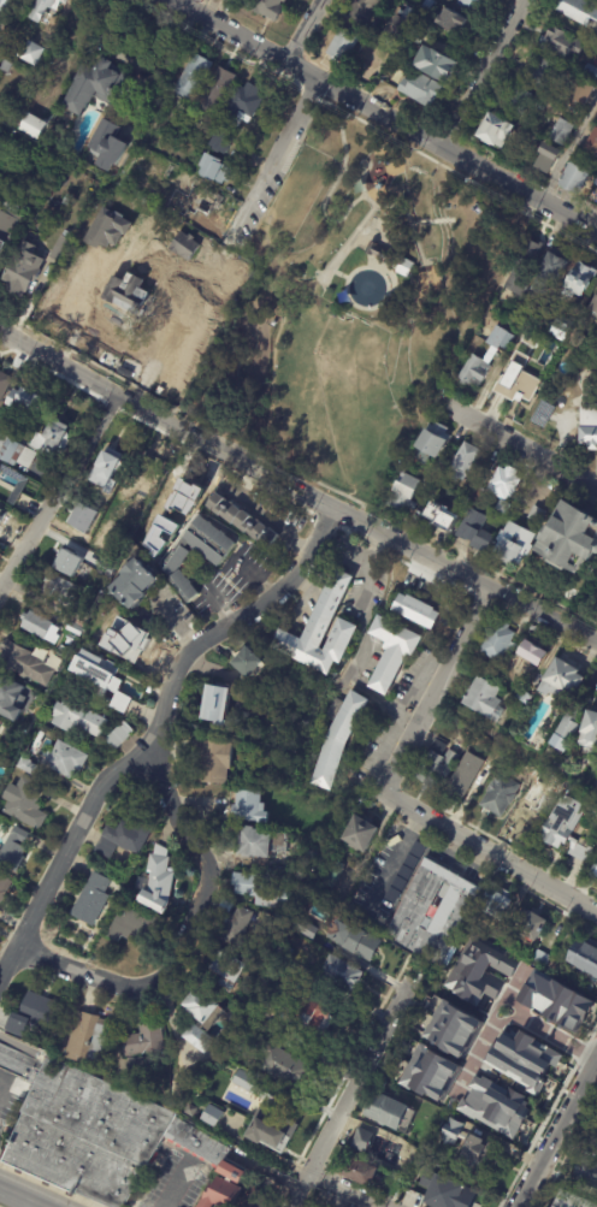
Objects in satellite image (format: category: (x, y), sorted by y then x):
building: (6, 2)
building: (468, 4)
road: (191, 5)
building: (267, 7)
building: (431, 7)
building: (45, 10)
building: (579, 10)
building: (363, 11)
building: (456, 20)
building: (398, 24)
road: (309, 32)
building: (419, 37)
building: (4, 41)
building: (565, 43)
building: (166, 47)
building: (344, 47)
building: (34, 53)
building: (385, 57)
building: (441, 64)
building: (7, 66)
building: (394, 66)
building: (591, 72)
road: (480, 73)
building: (544, 73)
building: (195, 76)
building: (95, 85)
building: (218, 89)
building: (422, 89)
building: (584, 94)
building: (521, 99)
building: (246, 105)
road: (383, 116)
building: (30, 124)
building: (500, 131)
building: (565, 131)
building: (223, 142)
building: (108, 144)
building: (593, 146)
road: (568, 147)
road: (128, 159)
building: (550, 159)
road: (276, 166)
building: (217, 170)
building: (141, 176)
road: (362, 176)
building: (181, 178)
building: (575, 178)
building: (152, 194)
building: (199, 197)
road: (347, 208)
building: (195, 215)
building: (8, 225)
road: (351, 233)
building: (61, 247)
building: (380, 253)
building: (143, 259)
building: (527, 264)
building: (406, 268)
building: (24, 270)
building: (554, 270)
building: (229, 278)
building: (581, 279)
building: (58, 298)
building: (595, 306)
park: (353, 308)
building: (542, 310)
building: (161, 320)
building: (565, 330)
building: (112, 332)
building: (530, 339)
building: (578, 339)
building: (144, 349)
building: (486, 359)
building: (178, 368)
building: (518, 380)
building: (5, 385)
building: (26, 400)
building: (543, 413)
building: (589, 426)
building: (436, 438)
building: (35, 444)
road: (521, 445)
building: (468, 461)
building: (0, 469)
building: (110, 471)
building: (507, 483)
road: (58, 491)
road: (296, 493)
building: (407, 495)
building: (483, 495)
building: (183, 496)
building: (142, 497)
building: (463, 502)
building: (508, 507)
building: (444, 515)
building: (4, 516)
building: (244, 521)
building: (91, 529)
building: (478, 531)
building: (573, 538)
building: (154, 539)
building: (211, 540)
building: (516, 546)
building: (71, 563)
building: (107, 569)
building: (182, 575)
building: (138, 584)
building: (60, 590)
building: (419, 610)
building: (81, 619)
building: (39, 625)
building: (76, 629)
building: (324, 631)
building: (501, 641)
building: (135, 643)
road: (361, 644)
building: (72, 646)
building: (394, 652)
building: (533, 657)
building: (249, 663)
building: (25, 664)
building: (101, 679)
building: (566, 680)
road: (435, 691)
building: (524, 696)
building: (10, 698)
building: (486, 699)
building: (219, 704)
building: (79, 718)
building: (573, 723)
building: (1, 724)
building: (591, 732)
road: (155, 733)
building: (120, 736)
building: (339, 738)
road: (503, 741)
building: (39, 744)
building: (66, 759)
building: (215, 763)
building: (438, 764)
building: (28, 767)
building: (465, 776)
building: (501, 795)
building: (25, 803)
building: (250, 807)
building: (524, 820)
building: (568, 827)
building: (361, 835)
building: (124, 838)
building: (261, 844)
building: (13, 851)
road: (489, 856)
road: (391, 859)
building: (593, 871)
building: (332, 874)
building: (159, 881)
building: (4, 887)
building: (262, 891)
building: (94, 899)
building: (498, 903)
building: (457, 907)
building: (532, 923)
building: (130, 925)
building: (238, 927)
building: (306, 929)
road: (185, 935)
building: (357, 940)
building: (249, 954)
building: (283, 957)
building: (586, 957)
building: (542, 958)
building: (556, 963)
building: (227, 969)
building: (341, 971)
building: (478, 972)
building: (264, 987)
building: (554, 1000)
building: (35, 1014)
building: (317, 1016)
building: (203, 1019)
building: (451, 1029)
building: (91, 1039)
building: (244, 1039)
building: (148, 1041)
building: (522, 1060)
building: (19, 1061)
road: (596, 1064)
building: (141, 1066)
building: (285, 1066)
building: (428, 1073)
road: (1, 1078)
building: (248, 1082)
road: (356, 1082)
building: (179, 1090)
parking lot: (8, 1095)
building: (493, 1106)
building: (96, 1111)
building: (389, 1112)
building: (212, 1118)
building: (276, 1129)
building: (453, 1131)
road: (557, 1134)
building: (595, 1142)
building: (371, 1143)
building: (478, 1153)
building: (71, 1160)
building: (359, 1171)
building: (586, 1171)
road: (172, 1182)
building: (394, 1188)
road: (344, 1190)
building: (587, 1190)
building: (221, 1193)
building: (262, 1194)
building: (451, 1195)
road: (22, 1197)
building: (574, 1200)
road: (0, 1206)
road: (37, 1206)

